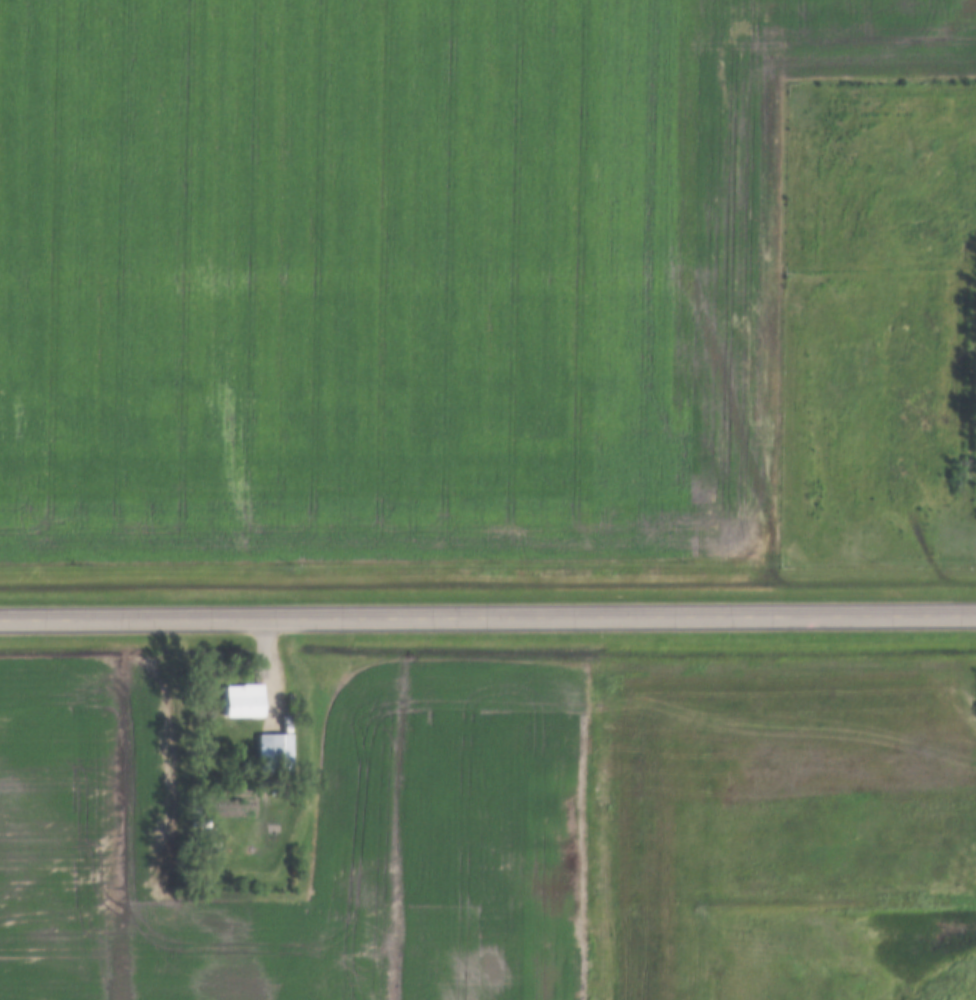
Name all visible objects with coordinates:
crop: (405, 273)
road: (487, 617)
building: (244, 700)
building: (274, 750)
crop: (517, 837)

